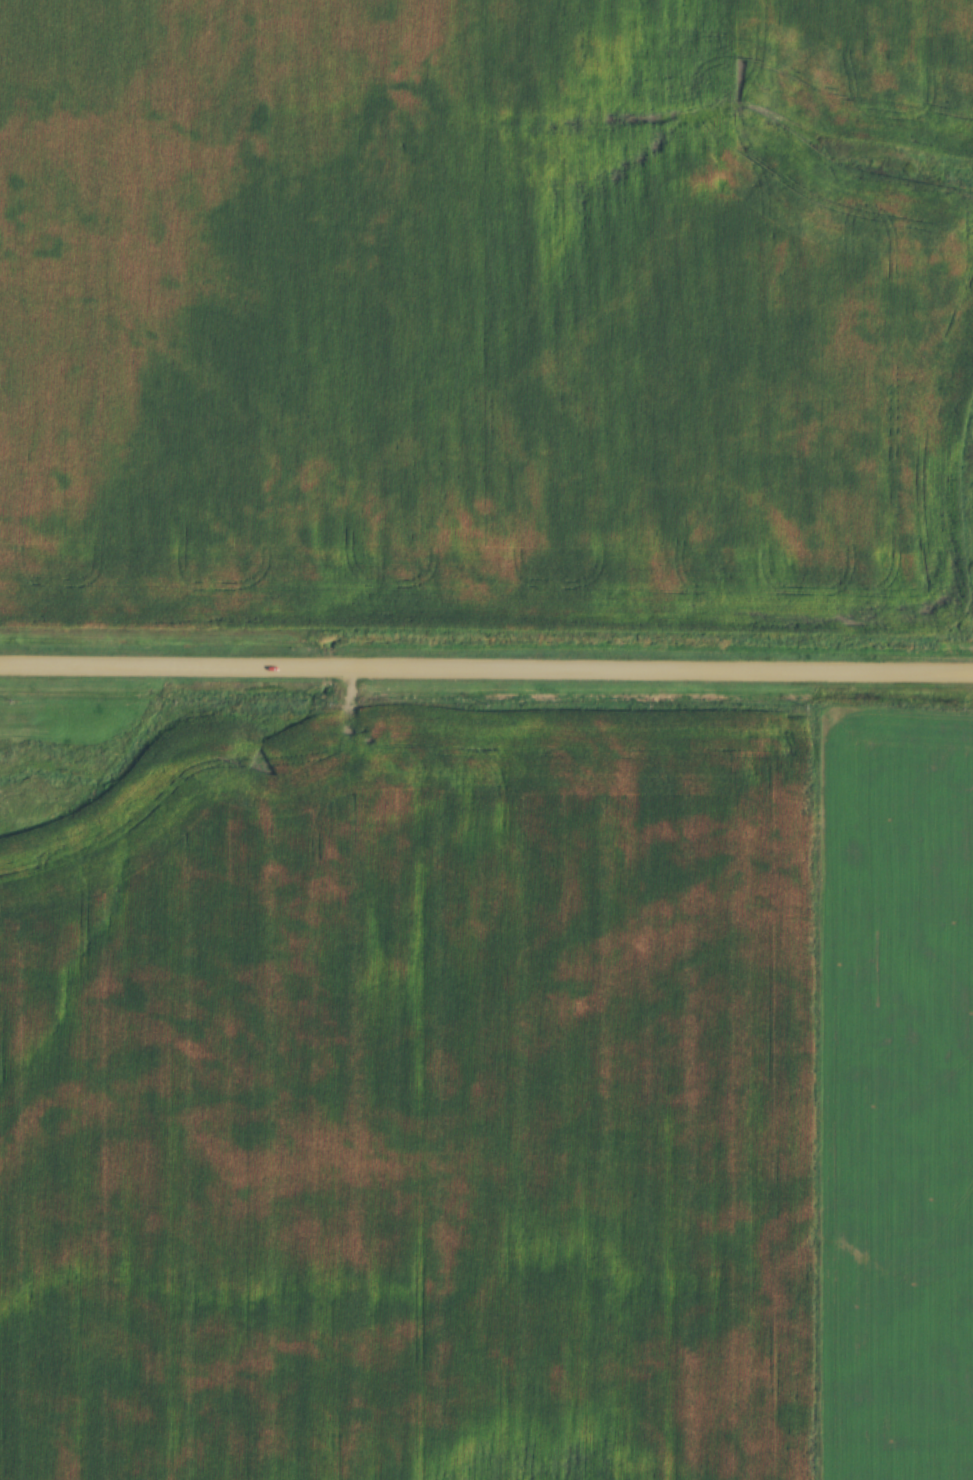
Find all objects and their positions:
crop: (483, 316)
road: (486, 671)

